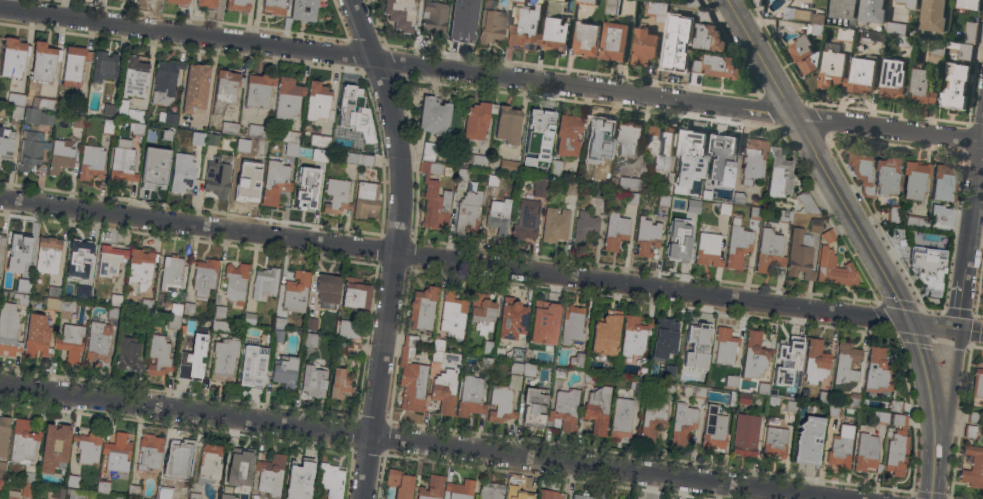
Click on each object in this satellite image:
building: (547, 0)
building: (176, 1)
building: (518, 1)
building: (558, 1)
building: (585, 2)
building: (758, 2)
building: (206, 3)
building: (692, 3)
building: (909, 3)
building: (237, 4)
building: (968, 4)
building: (273, 7)
building: (610, 7)
building: (842, 9)
building: (300, 11)
building: (656, 11)
building: (871, 12)
building: (399, 13)
building: (788, 13)
building: (802, 15)
building: (933, 15)
building: (703, 16)
building: (434, 18)
building: (690, 20)
building: (463, 22)
building: (490, 22)
building: (816, 25)
building: (525, 28)
building: (895, 28)
building: (970, 32)
building: (555, 33)
building: (844, 34)
building: (872, 37)
building: (708, 38)
building: (586, 39)
building: (613, 41)
building: (905, 41)
building: (643, 46)
building: (937, 48)
building: (961, 50)
building: (673, 51)
building: (803, 54)
building: (13, 56)
road: (760, 58)
building: (43, 61)
road: (397, 62)
building: (73, 64)
building: (696, 66)
building: (103, 67)
building: (721, 67)
building: (831, 67)
building: (862, 74)
building: (134, 76)
building: (893, 79)
building: (165, 81)
building: (955, 86)
building: (195, 87)
building: (921, 88)
building: (225, 89)
building: (258, 90)
building: (287, 97)
building: (15, 98)
building: (316, 100)
building: (43, 102)
building: (349, 103)
building: (109, 109)
building: (16, 112)
building: (129, 112)
building: (433, 115)
building: (167, 117)
building: (477, 119)
building: (78, 120)
building: (507, 123)
building: (363, 124)
building: (108, 126)
building: (229, 127)
building: (136, 128)
building: (538, 129)
road: (889, 130)
building: (258, 131)
building: (599, 131)
building: (166, 134)
building: (568, 134)
building: (151, 136)
building: (288, 136)
building: (197, 137)
building: (318, 137)
building: (32, 138)
building: (629, 138)
building: (212, 139)
building: (6, 140)
building: (363, 143)
building: (690, 143)
building: (241, 145)
building: (661, 147)
building: (290, 148)
building: (427, 151)
building: (177, 154)
building: (317, 154)
building: (61, 155)
building: (348, 156)
building: (724, 156)
building: (473, 159)
building: (365, 160)
building: (754, 160)
building: (122, 161)
building: (91, 162)
building: (508, 165)
building: (154, 168)
building: (550, 169)
building: (860, 171)
building: (461, 173)
building: (778, 174)
road: (828, 174)
building: (182, 175)
building: (885, 175)
building: (217, 176)
building: (914, 178)
building: (492, 180)
building: (275, 181)
building: (246, 182)
building: (631, 182)
building: (943, 182)
building: (668, 183)
building: (540, 185)
building: (688, 186)
building: (571, 188)
building: (708, 188)
building: (305, 190)
building: (600, 192)
building: (336, 195)
building: (434, 197)
building: (738, 197)
building: (365, 198)
building: (632, 198)
building: (806, 202)
building: (663, 203)
building: (693, 204)
building: (724, 208)
building: (467, 212)
building: (755, 212)
building: (893, 213)
building: (498, 216)
building: (786, 216)
building: (526, 219)
building: (915, 221)
building: (941, 221)
building: (815, 223)
building: (555, 225)
building: (584, 228)
building: (615, 231)
building: (646, 236)
road: (970, 237)
building: (678, 241)
building: (737, 244)
road: (398, 246)
building: (708, 248)
building: (769, 250)
building: (16, 251)
building: (801, 254)
building: (47, 256)
building: (77, 256)
road: (455, 259)
building: (110, 260)
building: (833, 262)
building: (926, 267)
building: (140, 268)
building: (171, 272)
road: (886, 277)
building: (203, 278)
building: (235, 282)
building: (263, 282)
building: (23, 285)
building: (327, 287)
building: (101, 290)
building: (54, 291)
building: (295, 291)
building: (84, 292)
building: (354, 292)
building: (3, 295)
building: (21, 298)
building: (116, 300)
building: (52, 303)
building: (146, 304)
building: (188, 307)
building: (481, 307)
building: (66, 308)
building: (176, 308)
building: (422, 308)
building: (113, 312)
building: (219, 313)
building: (451, 315)
building: (144, 316)
building: (644, 317)
building: (249, 318)
building: (512, 319)
building: (173, 321)
building: (279, 322)
building: (543, 322)
building: (311, 324)
building: (571, 325)
building: (221, 326)
road: (936, 327)
building: (9, 329)
building: (349, 330)
building: (266, 332)
road: (972, 332)
building: (605, 333)
building: (664, 334)
building: (277, 335)
building: (633, 335)
building: (36, 336)
building: (309, 339)
building: (71, 342)
building: (97, 343)
building: (697, 345)
building: (725, 345)
building: (488, 346)
building: (354, 347)
building: (437, 350)
road: (920, 352)
building: (127, 353)
building: (517, 354)
building: (754, 355)
building: (157, 357)
building: (192, 359)
building: (223, 359)
building: (548, 359)
building: (578, 360)
building: (788, 360)
building: (815, 361)
building: (486, 363)
building: (252, 366)
building: (846, 366)
building: (522, 368)
building: (550, 369)
building: (877, 370)
building: (671, 371)
building: (284, 372)
building: (559, 373)
building: (410, 376)
building: (588, 377)
building: (313, 380)
building: (732, 382)
building: (637, 383)
building: (977, 383)
road: (957, 384)
building: (338, 385)
building: (665, 387)
building: (763, 388)
building: (444, 391)
building: (700, 391)
building: (470, 396)
building: (823, 396)
building: (732, 398)
building: (743, 398)
building: (853, 399)
building: (503, 400)
building: (536, 401)
building: (895, 405)
building: (791, 406)
road: (933, 407)
building: (565, 409)
building: (597, 409)
road: (186, 410)
building: (833, 410)
building: (882, 417)
building: (974, 417)
building: (621, 418)
building: (653, 420)
building: (682, 423)
building: (713, 429)
building: (969, 431)
building: (4, 434)
building: (745, 434)
building: (808, 440)
building: (23, 442)
building: (774, 442)
building: (897, 445)
building: (53, 446)
building: (840, 447)
building: (89, 448)
building: (117, 452)
building: (149, 453)
building: (866, 453)
building: (178, 456)
building: (210, 459)
building: (240, 465)
road: (934, 466)
building: (973, 466)
road: (601, 467)
building: (2, 469)
building: (29, 476)
building: (270, 476)
building: (331, 479)
building: (72, 480)
building: (298, 480)
building: (399, 483)
building: (1, 485)
building: (103, 487)
building: (431, 488)
building: (28, 489)
building: (460, 489)
building: (133, 490)
building: (164, 491)
building: (490, 491)
building: (57, 493)
building: (517, 493)
building: (13, 494)
building: (80, 494)
building: (549, 494)
building: (194, 495)
building: (582, 496)
building: (120, 497)
building: (36, 498)
building: (143, 498)
building: (146, 498)
building: (224, 498)

